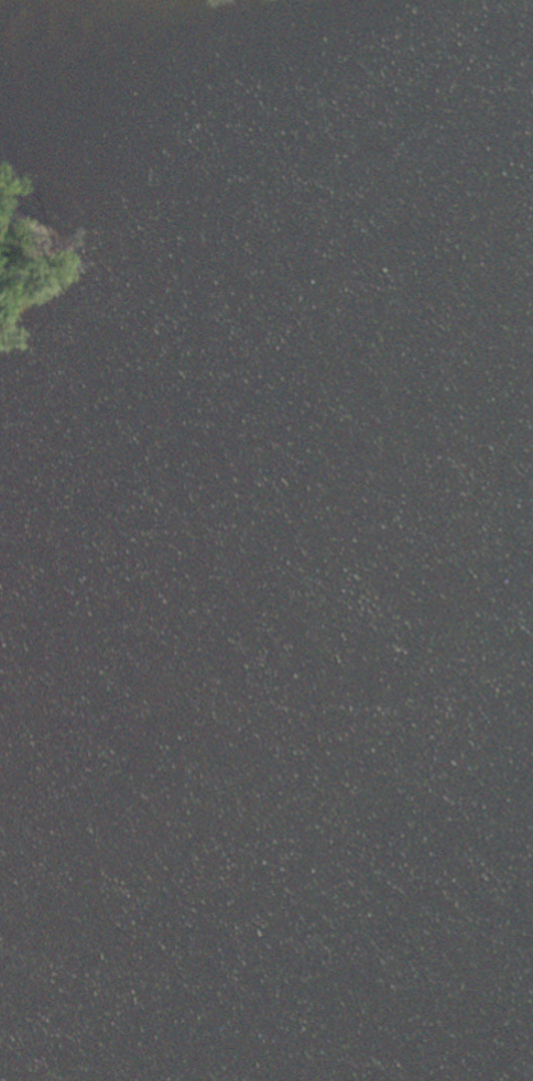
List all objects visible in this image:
river: (431, 653)
river: (164, 799)

